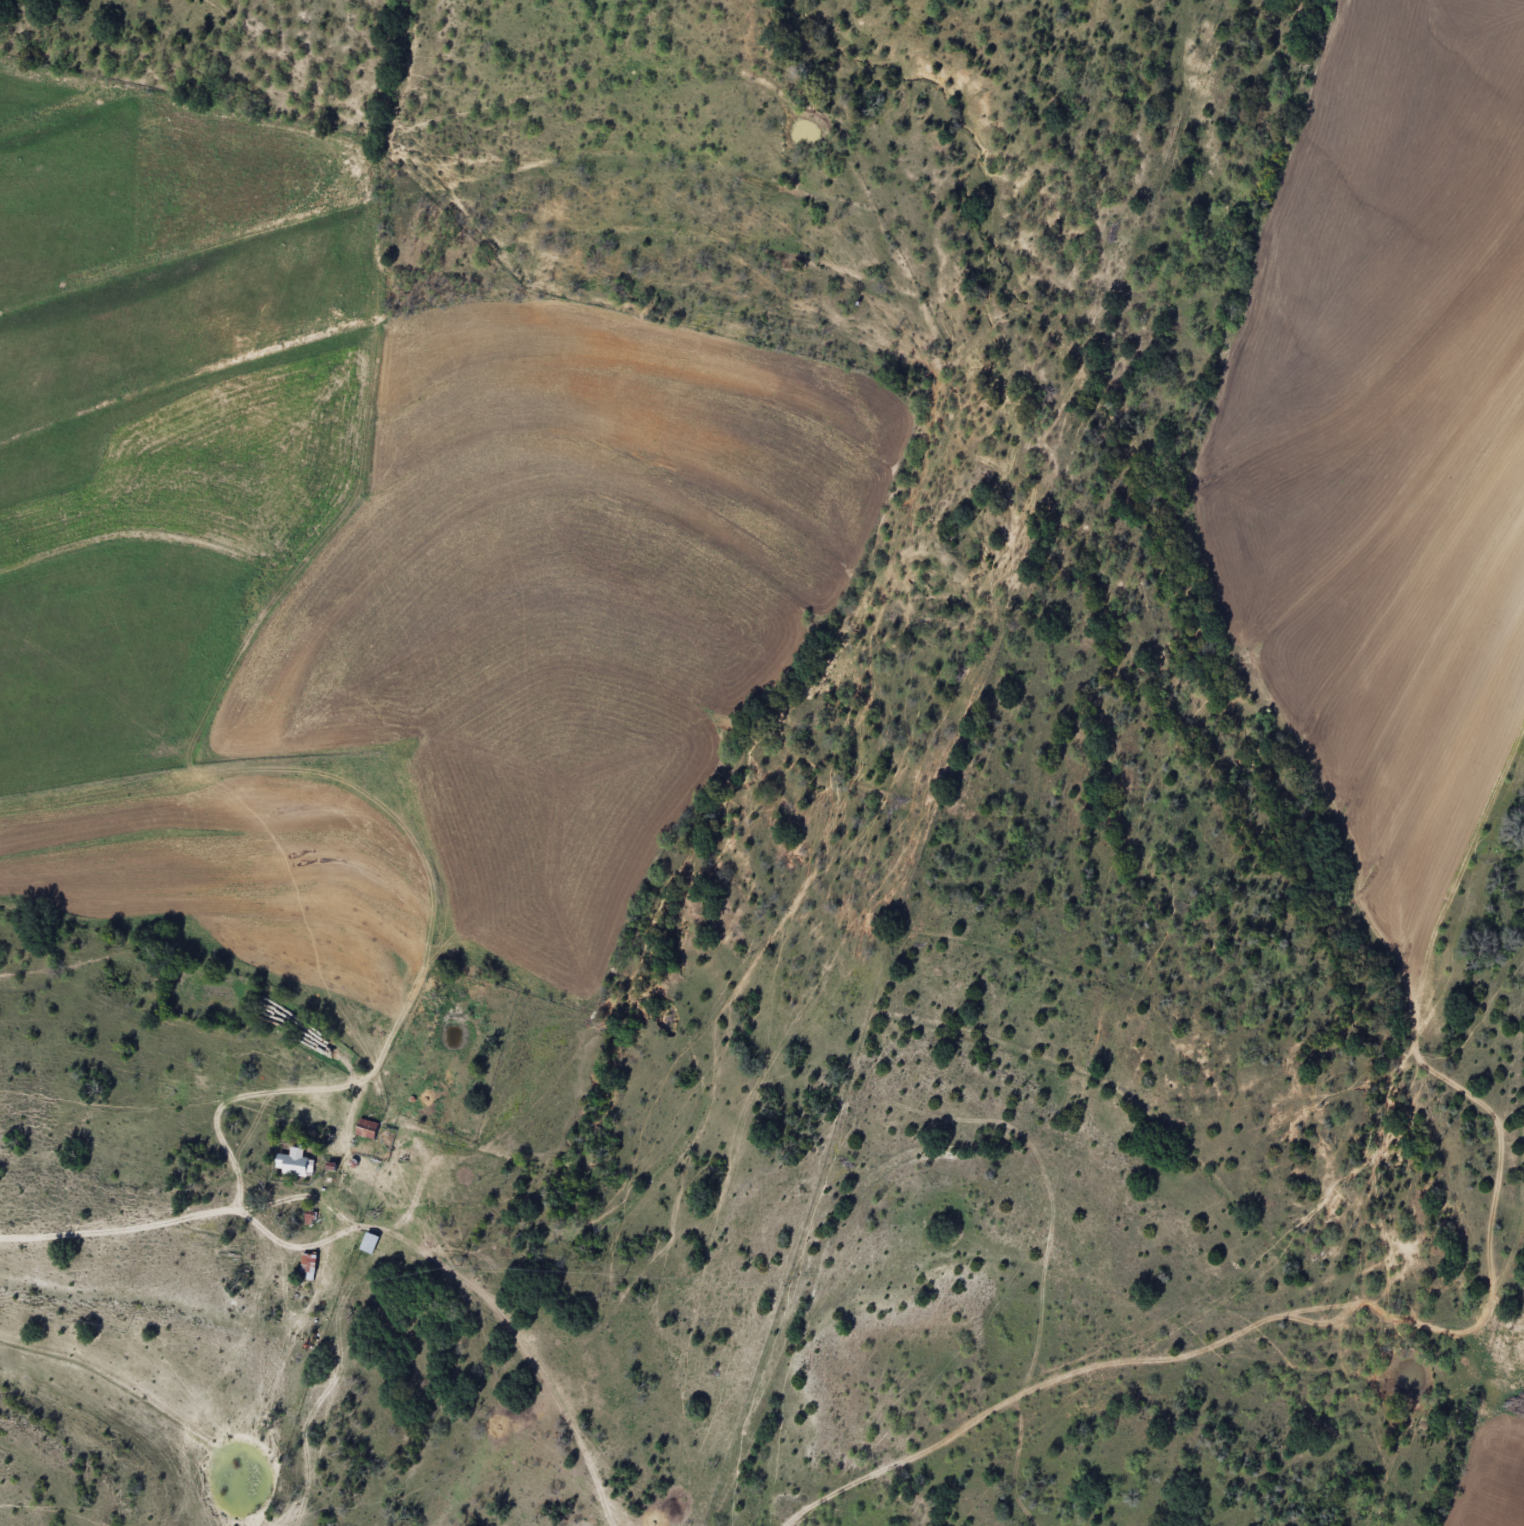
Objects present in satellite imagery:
building: (368, 1129)
building: (297, 1163)
road: (107, 1199)
building: (371, 1243)
building: (310, 1266)

